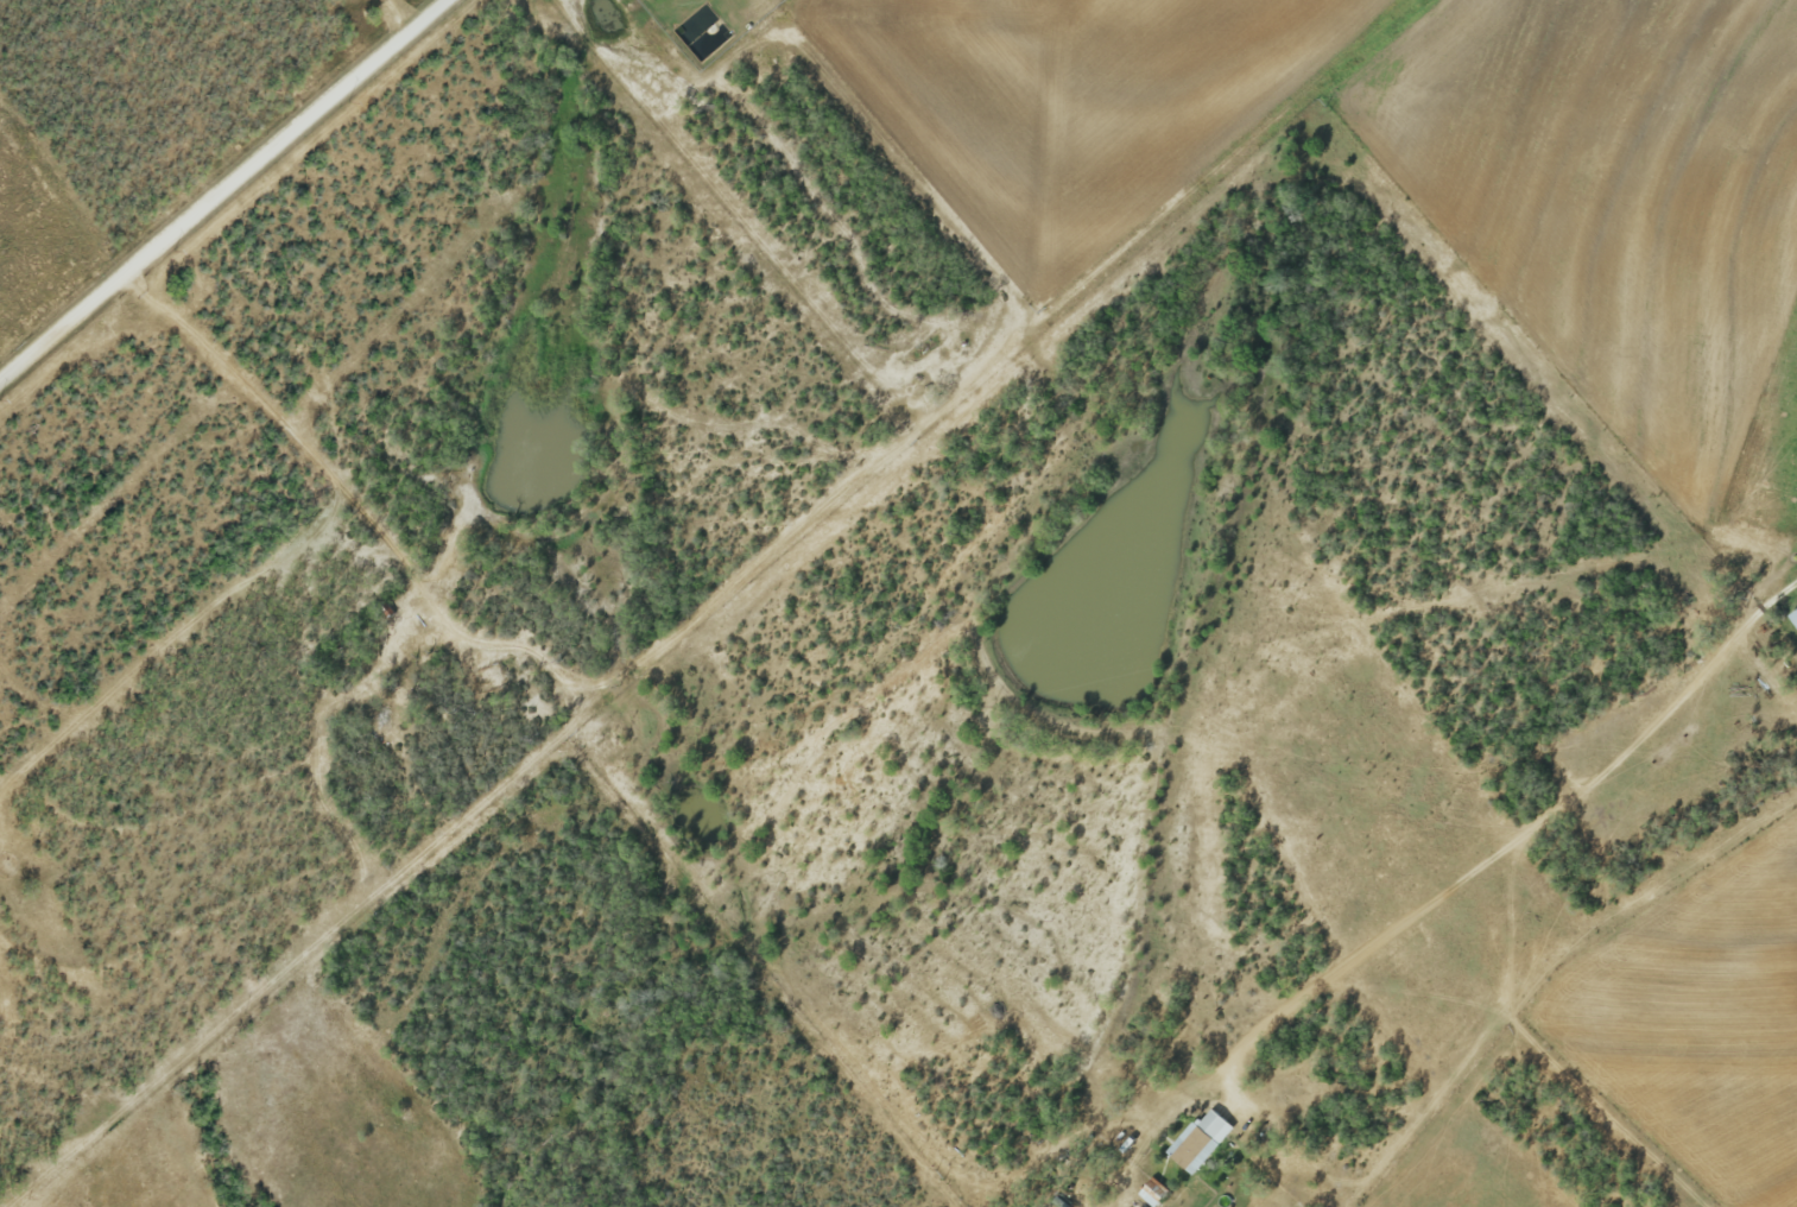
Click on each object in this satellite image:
road: (224, 191)
road: (295, 436)
building: (1793, 617)
road: (1516, 845)
building: (1200, 1142)
building: (1152, 1193)

